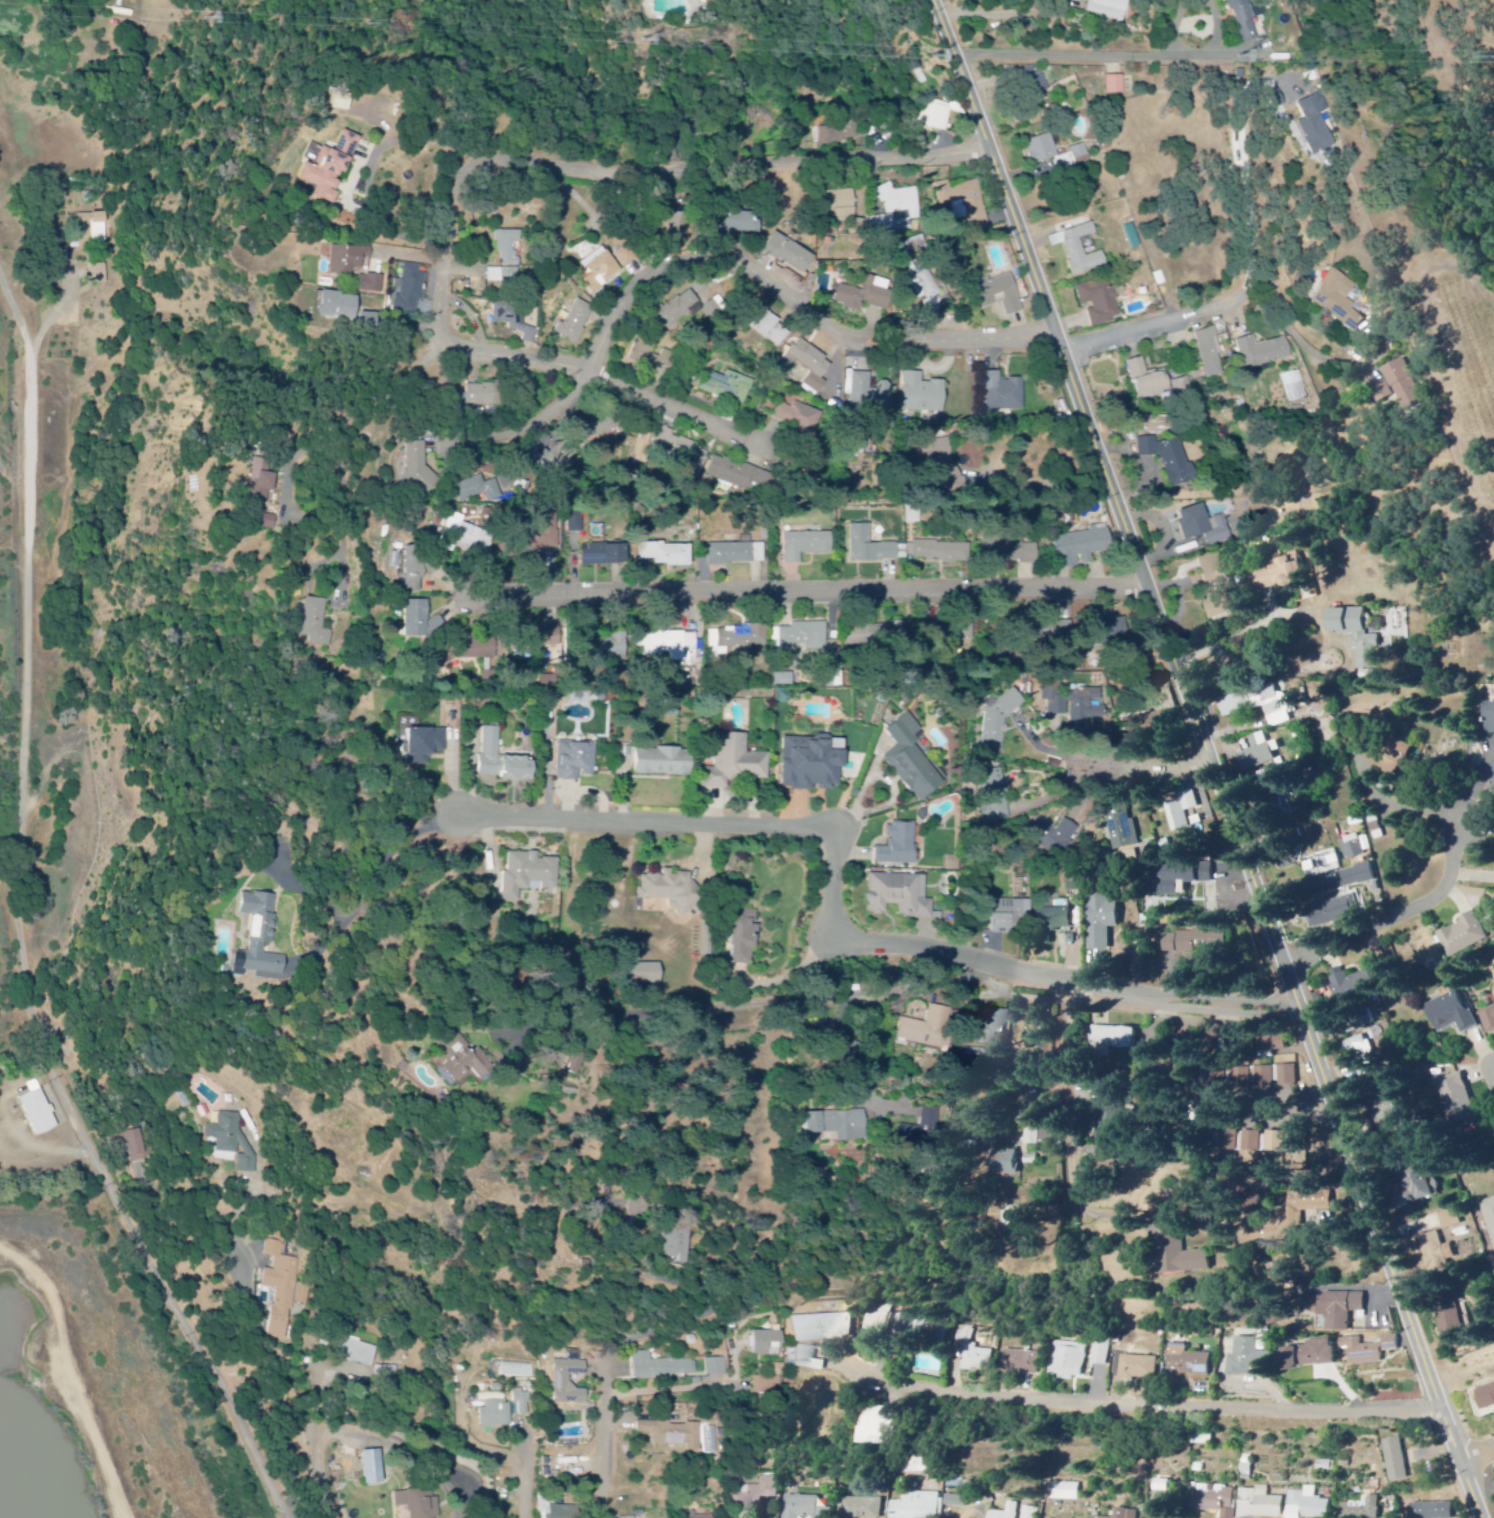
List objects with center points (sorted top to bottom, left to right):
road: (1203, 4)
building: (1108, 9)
building: (1242, 21)
road: (1065, 57)
building: (1039, 85)
building: (1115, 86)
building: (935, 117)
building: (1316, 126)
building: (837, 134)
building: (1041, 150)
building: (1073, 159)
road: (524, 167)
building: (331, 168)
building: (899, 203)
building: (842, 207)
building: (746, 222)
building: (682, 223)
building: (99, 227)
building: (1079, 249)
building: (790, 254)
building: (627, 256)
building: (507, 257)
road: (737, 258)
building: (348, 259)
building: (600, 270)
building: (102, 275)
building: (370, 284)
building: (928, 289)
building: (409, 290)
building: (866, 295)
building: (1000, 295)
building: (1338, 300)
building: (1100, 301)
building: (340, 306)
building: (681, 308)
building: (514, 320)
building: (576, 322)
road: (1167, 323)
building: (771, 329)
building: (1263, 352)
building: (1210, 353)
building: (812, 365)
road: (600, 377)
building: (1155, 382)
building: (729, 386)
building: (1403, 386)
building: (1003, 393)
building: (922, 394)
building: (485, 395)
building: (799, 416)
building: (680, 446)
building: (938, 449)
building: (560, 456)
building: (1171, 459)
building: (419, 467)
building: (742, 476)
building: (262, 481)
building: (956, 483)
building: (476, 490)
building: (575, 521)
building: (269, 522)
building: (1204, 526)
building: (466, 536)
building: (545, 536)
building: (807, 546)
building: (873, 547)
building: (1082, 547)
building: (1008, 551)
building: (938, 552)
building: (736, 554)
building: (605, 555)
building: (667, 555)
building: (414, 570)
building: (1286, 574)
building: (1219, 586)
road: (809, 595)
building: (419, 620)
building: (316, 623)
building: (1115, 630)
building: (967, 632)
building: (877, 633)
building: (1359, 635)
building: (752, 636)
building: (550, 637)
building: (801, 637)
building: (613, 646)
building: (669, 647)
building: (478, 648)
building: (783, 679)
building: (549, 681)
building: (1073, 703)
building: (999, 719)
building: (1493, 720)
building: (1161, 721)
building: (1362, 731)
building: (425, 745)
building: (839, 745)
building: (1262, 753)
road: (1209, 758)
building: (503, 760)
building: (912, 760)
building: (1396, 760)
building: (576, 761)
building: (664, 763)
building: (737, 763)
building: (812, 764)
road: (1100, 770)
building: (1181, 812)
road: (724, 829)
building: (1060, 838)
building: (899, 847)
building: (1187, 872)
building: (1209, 873)
building: (529, 875)
building: (1360, 876)
building: (670, 891)
building: (900, 897)
building: (1336, 913)
building: (1009, 916)
road: (1403, 917)
building: (1103, 918)
building: (1055, 919)
road: (24, 923)
building: (1466, 936)
building: (259, 937)
building: (744, 938)
building: (1200, 944)
building: (646, 974)
building: (1361, 985)
road: (1098, 988)
road: (740, 1014)
building: (1454, 1014)
building: (1489, 1020)
building: (991, 1026)
building: (927, 1030)
building: (1116, 1038)
building: (1363, 1056)
building: (465, 1063)
building: (1289, 1077)
building: (1460, 1100)
road: (1067, 1111)
building: (1397, 1111)
building: (38, 1113)
building: (1114, 1118)
building: (929, 1121)
building: (839, 1125)
building: (232, 1137)
building: (1040, 1137)
building: (1276, 1141)
building: (1251, 1142)
building: (1299, 1143)
building: (135, 1147)
building: (1010, 1164)
building: (1429, 1181)
building: (1490, 1212)
building: (1299, 1213)
building: (1455, 1217)
building: (674, 1242)
building: (1440, 1254)
building: (1185, 1258)
building: (281, 1289)
building: (1340, 1311)
building: (1457, 1327)
building: (824, 1329)
building: (907, 1329)
building: (767, 1344)
building: (360, 1353)
building: (1366, 1353)
building: (975, 1355)
building: (1313, 1355)
building: (808, 1359)
building: (1249, 1360)
building: (1068, 1361)
building: (1191, 1362)
building: (1021, 1363)
building: (717, 1367)
building: (662, 1368)
building: (1142, 1369)
building: (386, 1374)
road: (67, 1381)
building: (570, 1383)
building: (767, 1386)
building: (1489, 1397)
building: (520, 1406)
road: (1138, 1408)
building: (496, 1416)
building: (882, 1427)
road: (367, 1428)
building: (671, 1435)
road: (603, 1439)
road: (1480, 1459)
building: (373, 1469)
building: (1069, 1492)
building: (757, 1495)
building: (960, 1502)
building: (1217, 1502)
building: (419, 1504)
building: (1261, 1504)
building: (1309, 1505)
building: (805, 1508)
building: (862, 1508)
building: (1363, 1509)
building: (1434, 1511)
building: (564, 1512)
building: (1030, 1513)
building: (1128, 1514)
building: (634, 1517)
building: (706, 1517)

